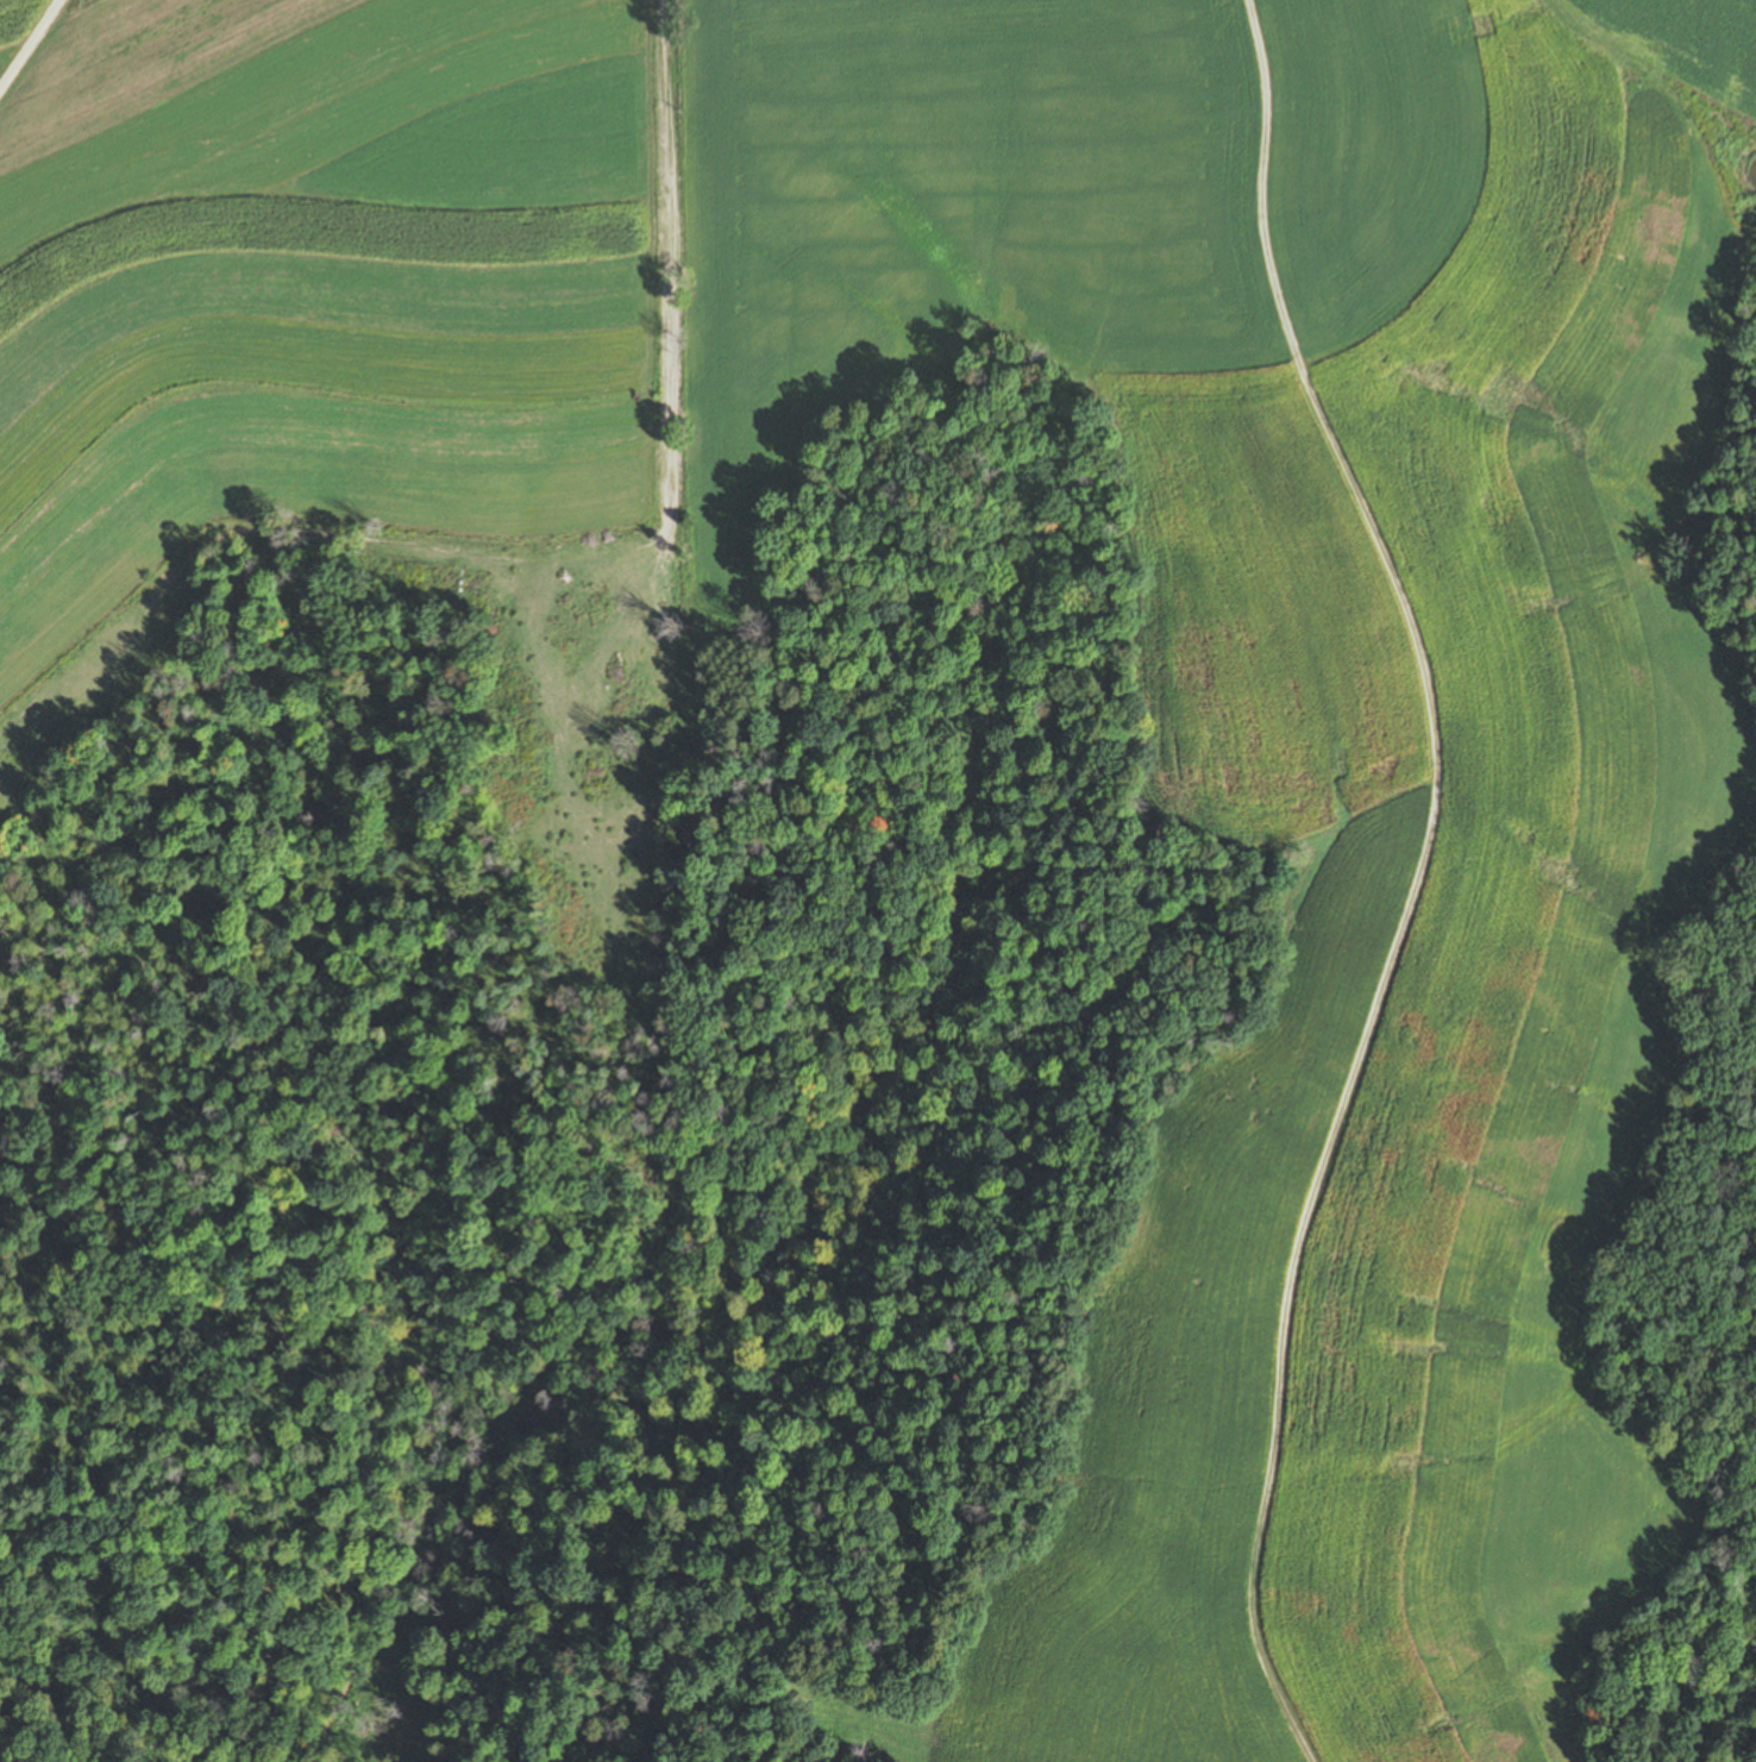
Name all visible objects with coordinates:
road: (27, 46)

